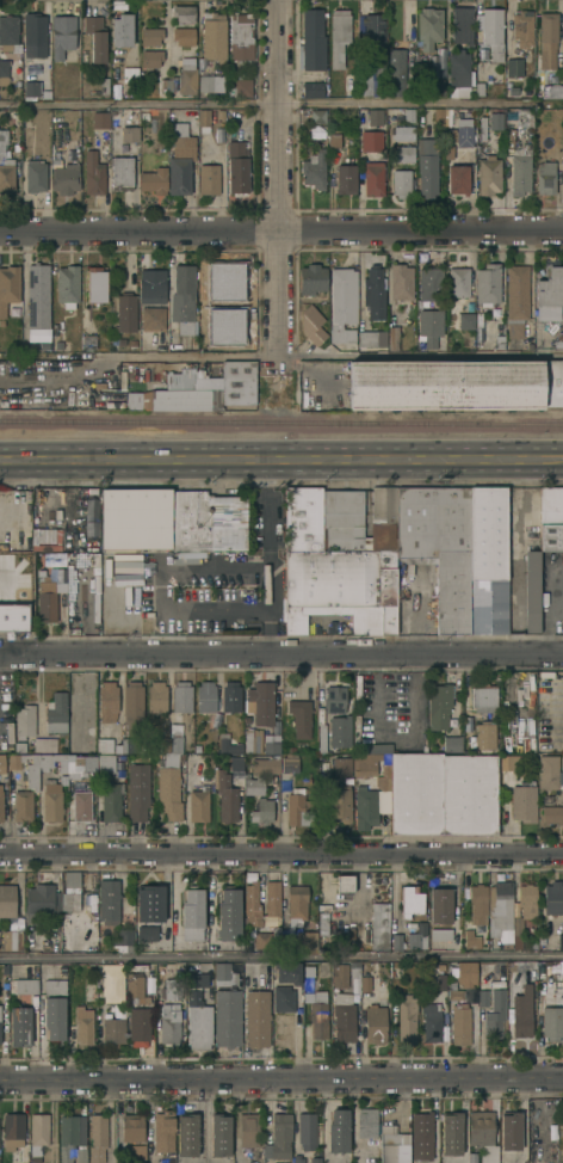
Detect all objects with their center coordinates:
building: (184, 13)
building: (462, 25)
building: (428, 27)
building: (522, 27)
building: (122, 30)
building: (491, 30)
building: (8, 32)
building: (35, 33)
building: (62, 35)
building: (184, 35)
building: (95, 36)
building: (150, 36)
building: (214, 36)
building: (241, 36)
building: (339, 36)
building: (547, 38)
building: (311, 41)
building: (562, 42)
building: (373, 43)
building: (150, 57)
building: (437, 66)
building: (514, 67)
building: (420, 70)
building: (4, 72)
building: (396, 72)
building: (460, 73)
building: (130, 74)
building: (187, 76)
building: (169, 82)
building: (211, 82)
building: (104, 85)
building: (365, 85)
building: (31, 87)
building: (241, 87)
building: (311, 88)
building: (478, 88)
building: (555, 90)
building: (516, 91)
road: (281, 105)
building: (144, 115)
building: (409, 115)
building: (439, 115)
building: (317, 116)
building: (518, 116)
building: (543, 116)
building: (13, 117)
building: (376, 117)
building: (100, 119)
building: (204, 119)
building: (495, 122)
building: (129, 124)
building: (482, 129)
building: (115, 130)
building: (562, 131)
building: (403, 133)
building: (462, 133)
building: (334, 140)
building: (371, 140)
building: (403, 153)
building: (180, 159)
building: (6, 165)
building: (237, 166)
building: (427, 166)
building: (314, 170)
building: (93, 173)
building: (122, 173)
building: (36, 174)
building: (489, 174)
building: (520, 174)
building: (64, 178)
building: (209, 178)
building: (346, 178)
building: (373, 178)
building: (546, 178)
road: (277, 179)
building: (457, 179)
building: (154, 180)
building: (401, 183)
road: (280, 234)
building: (222, 266)
building: (313, 278)
building: (401, 282)
building: (458, 282)
building: (429, 283)
building: (67, 284)
building: (97, 284)
building: (151, 284)
building: (487, 284)
building: (8, 287)
building: (211, 290)
building: (373, 293)
building: (37, 295)
building: (549, 295)
building: (182, 299)
building: (516, 299)
building: (342, 303)
building: (200, 307)
building: (126, 312)
building: (153, 318)
building: (466, 320)
building: (1, 321)
building: (431, 325)
building: (316, 334)
building: (212, 338)
building: (392, 338)
building: (366, 339)
building: (88, 340)
building: (120, 343)
building: (131, 344)
building: (57, 345)
building: (242, 345)
building: (43, 346)
building: (530, 346)
road: (281, 357)
building: (239, 381)
building: (454, 384)
building: (174, 399)
railway: (281, 421)
road: (280, 460)
building: (191, 507)
road: (266, 515)
building: (136, 518)
building: (551, 518)
building: (80, 519)
building: (342, 519)
building: (383, 519)
building: (432, 521)
building: (228, 522)
building: (43, 525)
building: (192, 539)
building: (488, 560)
building: (125, 570)
road: (216, 571)
building: (332, 572)
road: (268, 590)
building: (453, 591)
building: (531, 591)
building: (45, 602)
road: (216, 610)
building: (12, 619)
road: (545, 623)
road: (281, 651)
building: (156, 696)
building: (181, 696)
building: (205, 696)
building: (230, 696)
building: (482, 697)
building: (334, 699)
building: (107, 700)
building: (260, 702)
building: (438, 706)
building: (56, 713)
building: (301, 716)
building: (132, 718)
building: (23, 721)
building: (340, 731)
building: (484, 734)
building: (175, 737)
building: (322, 737)
building: (223, 740)
building: (260, 742)
building: (162, 744)
building: (451, 744)
building: (6, 745)
building: (44, 745)
building: (104, 745)
building: (371, 747)
building: (86, 763)
building: (106, 763)
building: (236, 763)
building: (290, 763)
building: (365, 763)
building: (2, 764)
building: (266, 764)
building: (511, 764)
building: (33, 765)
building: (341, 765)
building: (550, 771)
building: (253, 784)
building: (137, 792)
building: (168, 792)
building: (443, 793)
building: (225, 796)
building: (51, 800)
building: (371, 800)
building: (111, 801)
building: (524, 801)
building: (198, 802)
building: (339, 802)
building: (20, 805)
building: (81, 805)
building: (1, 806)
building: (297, 808)
building: (262, 811)
building: (551, 814)
road: (281, 853)
building: (72, 881)
building: (344, 882)
building: (553, 897)
building: (250, 898)
building: (272, 898)
building: (7, 899)
building: (38, 899)
building: (107, 900)
building: (410, 900)
building: (149, 903)
building: (477, 903)
building: (440, 904)
building: (297, 905)
building: (508, 913)
building: (191, 915)
building: (323, 922)
building: (381, 925)
building: (147, 933)
building: (440, 934)
building: (125, 936)
building: (417, 936)
building: (230, 937)
building: (11, 939)
building: (266, 940)
building: (298, 940)
building: (471, 940)
building: (550, 941)
building: (397, 942)
road: (281, 956)
building: (354, 970)
building: (287, 972)
building: (224, 973)
building: (466, 973)
building: (340, 976)
building: (197, 979)
building: (255, 979)
building: (112, 982)
building: (134, 984)
building: (363, 984)
building: (26, 985)
building: (55, 986)
building: (173, 989)
building: (454, 992)
building: (475, 997)
building: (283, 998)
building: (521, 1011)
building: (317, 1014)
building: (495, 1014)
building: (227, 1017)
building: (256, 1017)
building: (344, 1017)
building: (407, 1017)
building: (54, 1019)
building: (198, 1021)
building: (431, 1022)
building: (552, 1022)
building: (169, 1023)
building: (375, 1023)
building: (460, 1023)
building: (19, 1026)
building: (115, 1026)
building: (82, 1027)
building: (138, 1027)
road: (295, 1047)
road: (281, 1078)
building: (366, 1122)
building: (132, 1127)
building: (13, 1130)
building: (248, 1130)
building: (338, 1130)
building: (511, 1130)
building: (163, 1131)
building: (307, 1131)
building: (38, 1132)
building: (451, 1133)
building: (187, 1134)
building: (219, 1134)
building: (280, 1134)
building: (421, 1134)
building: (482, 1136)
building: (67, 1137)
building: (97, 1137)
building: (394, 1144)
building: (297, 1159)
building: (315, 1159)
building: (23, 1162)

